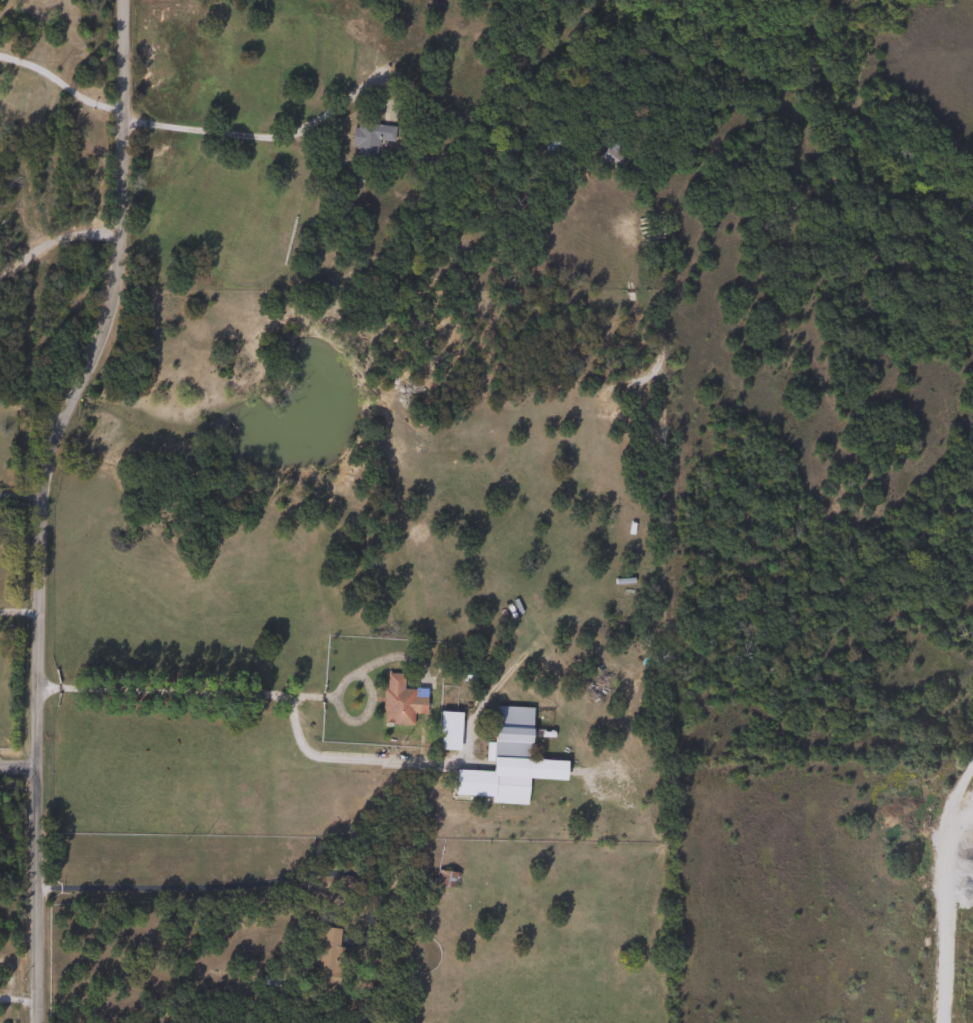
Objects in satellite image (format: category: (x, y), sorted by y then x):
road: (59, 83)
road: (271, 136)
building: (367, 140)
building: (553, 147)
building: (611, 155)
road: (54, 244)
road: (19, 494)
road: (38, 504)
road: (18, 610)
road: (265, 694)
building: (395, 701)
building: (508, 760)
road: (17, 769)
road: (944, 884)
road: (226, 885)
building: (325, 955)

